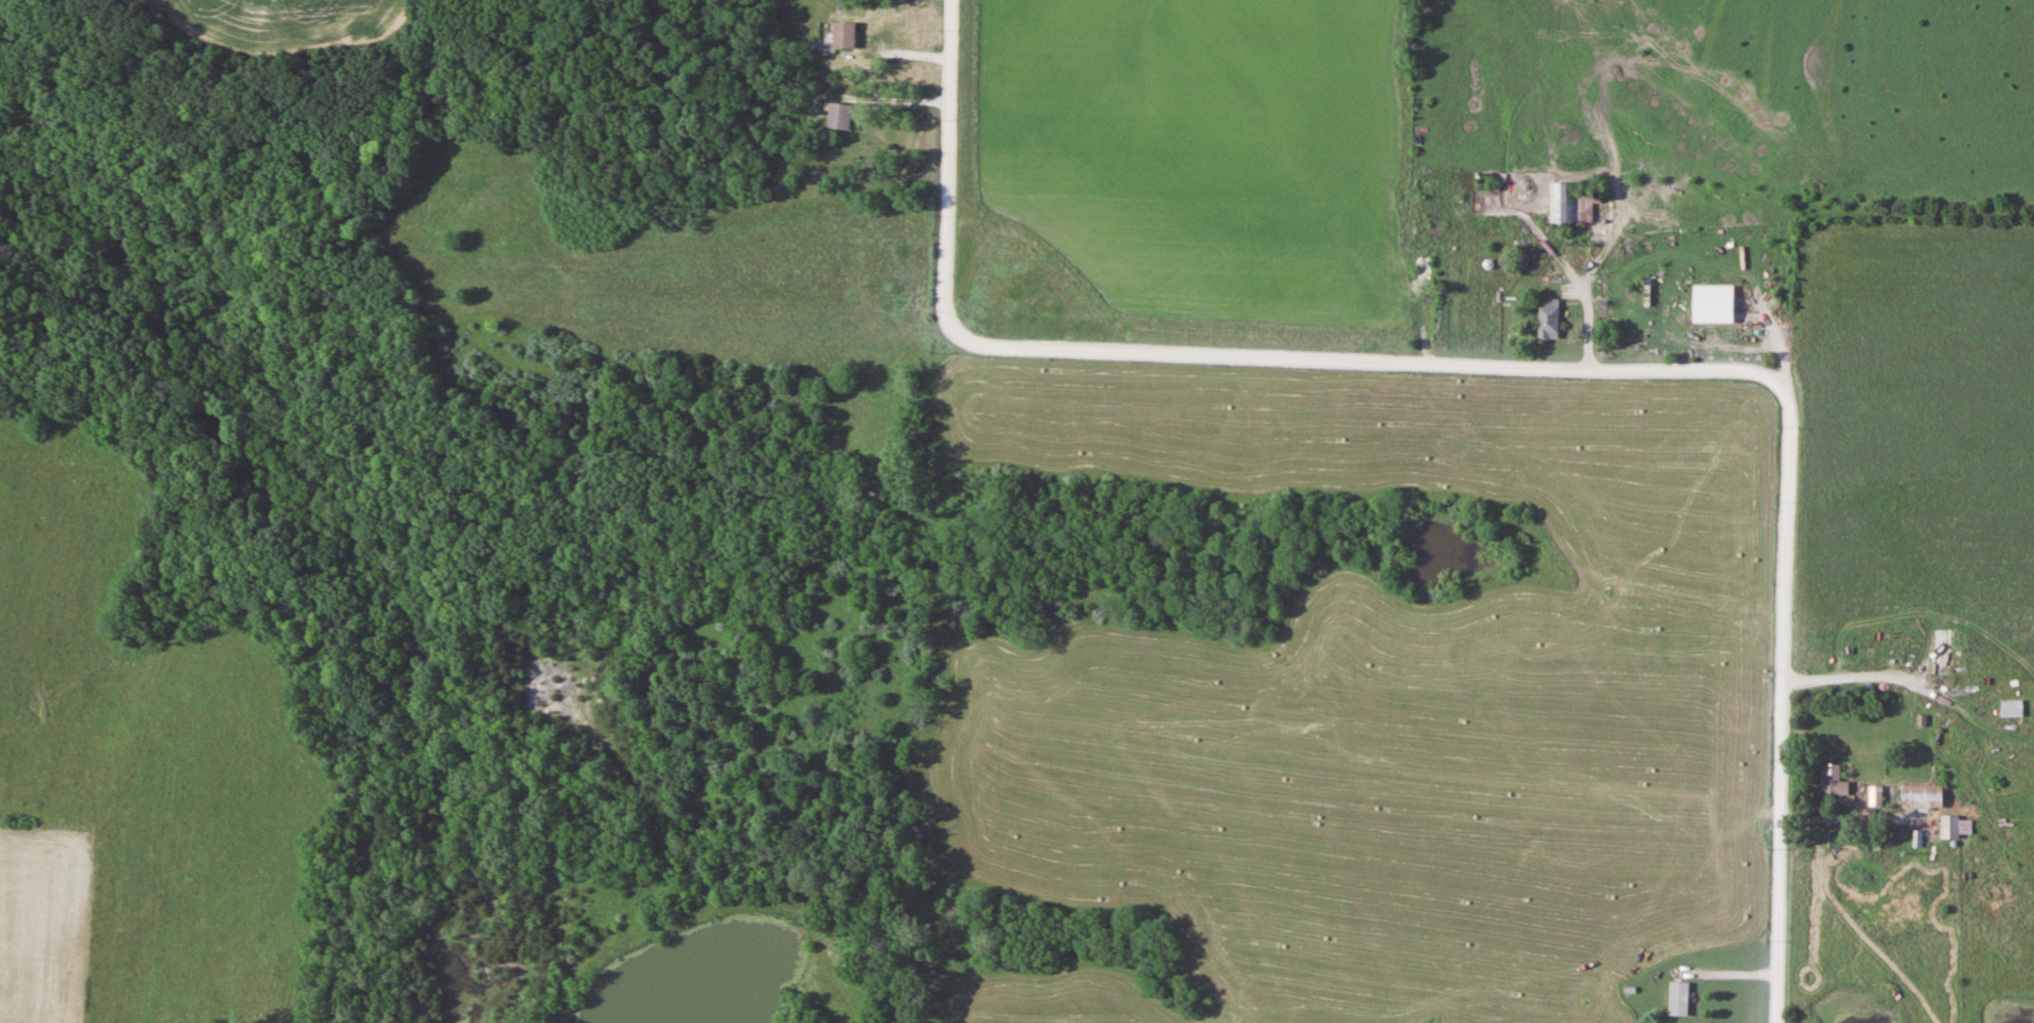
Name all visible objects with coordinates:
building: (845, 35)
building: (841, 116)
building: (1572, 202)
building: (1714, 304)
building: (1549, 320)
road: (1518, 363)
building: (2012, 708)
building: (1834, 781)
building: (1876, 796)
building: (1918, 797)
building: (1957, 827)
building: (1679, 998)

